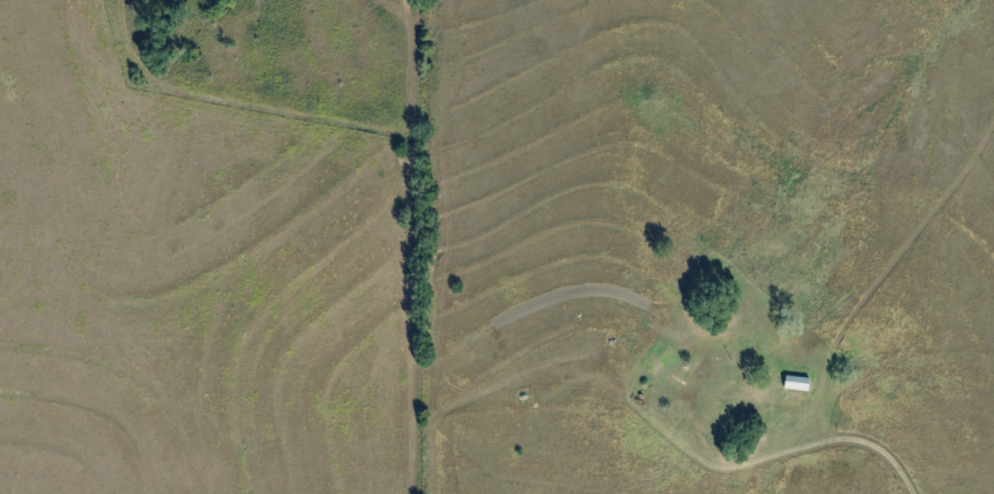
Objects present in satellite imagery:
building: (796, 383)

